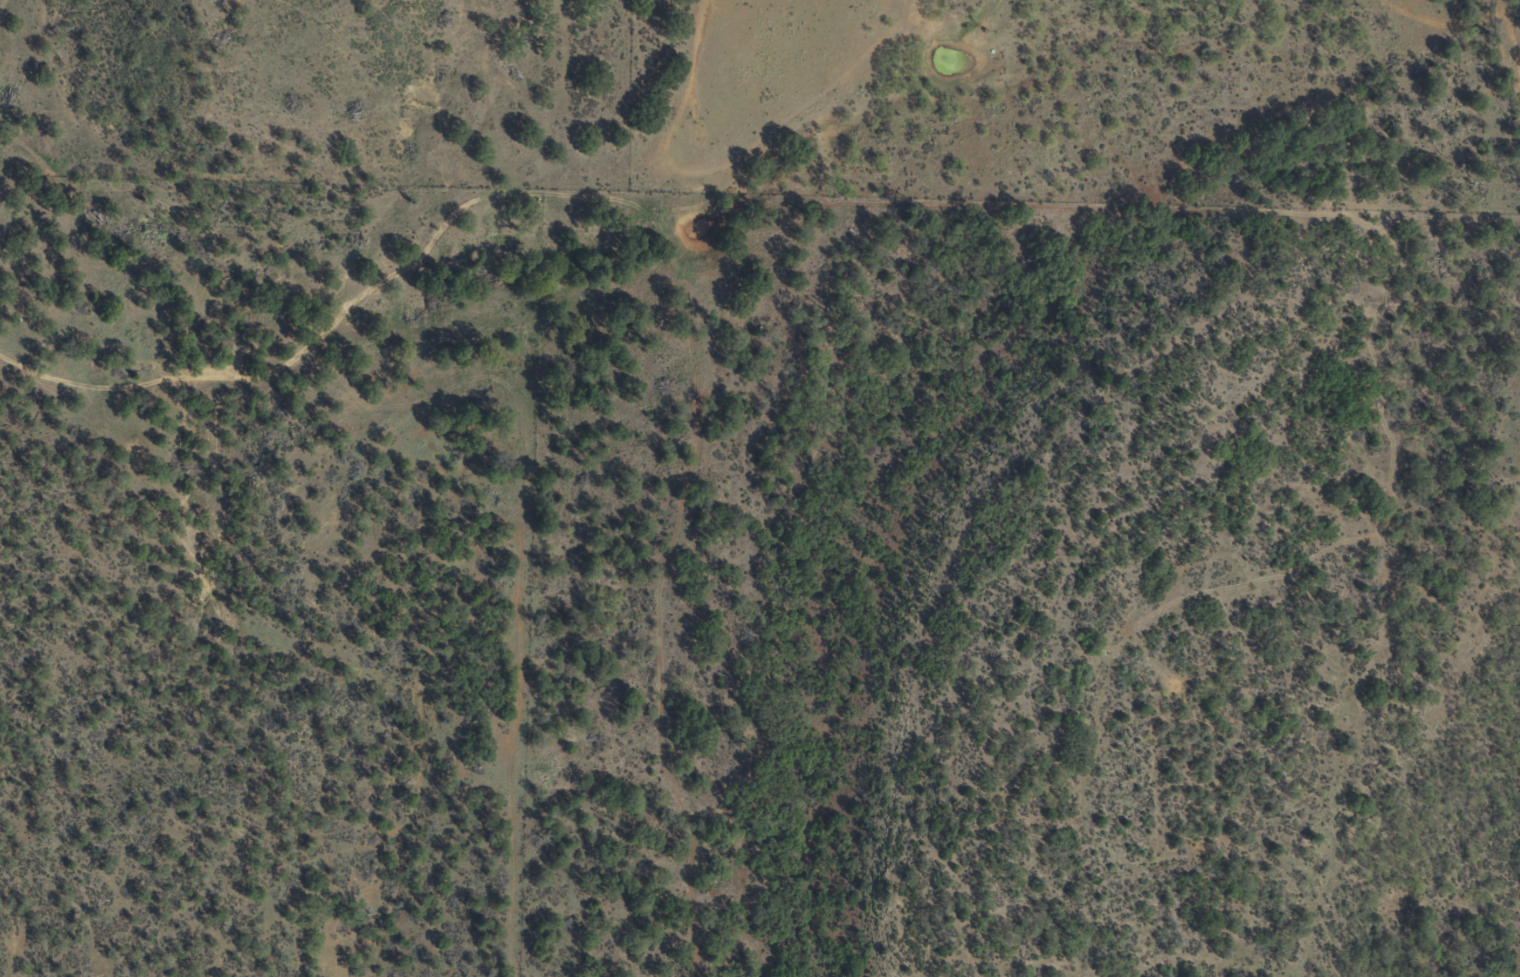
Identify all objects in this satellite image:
road: (395, 226)

